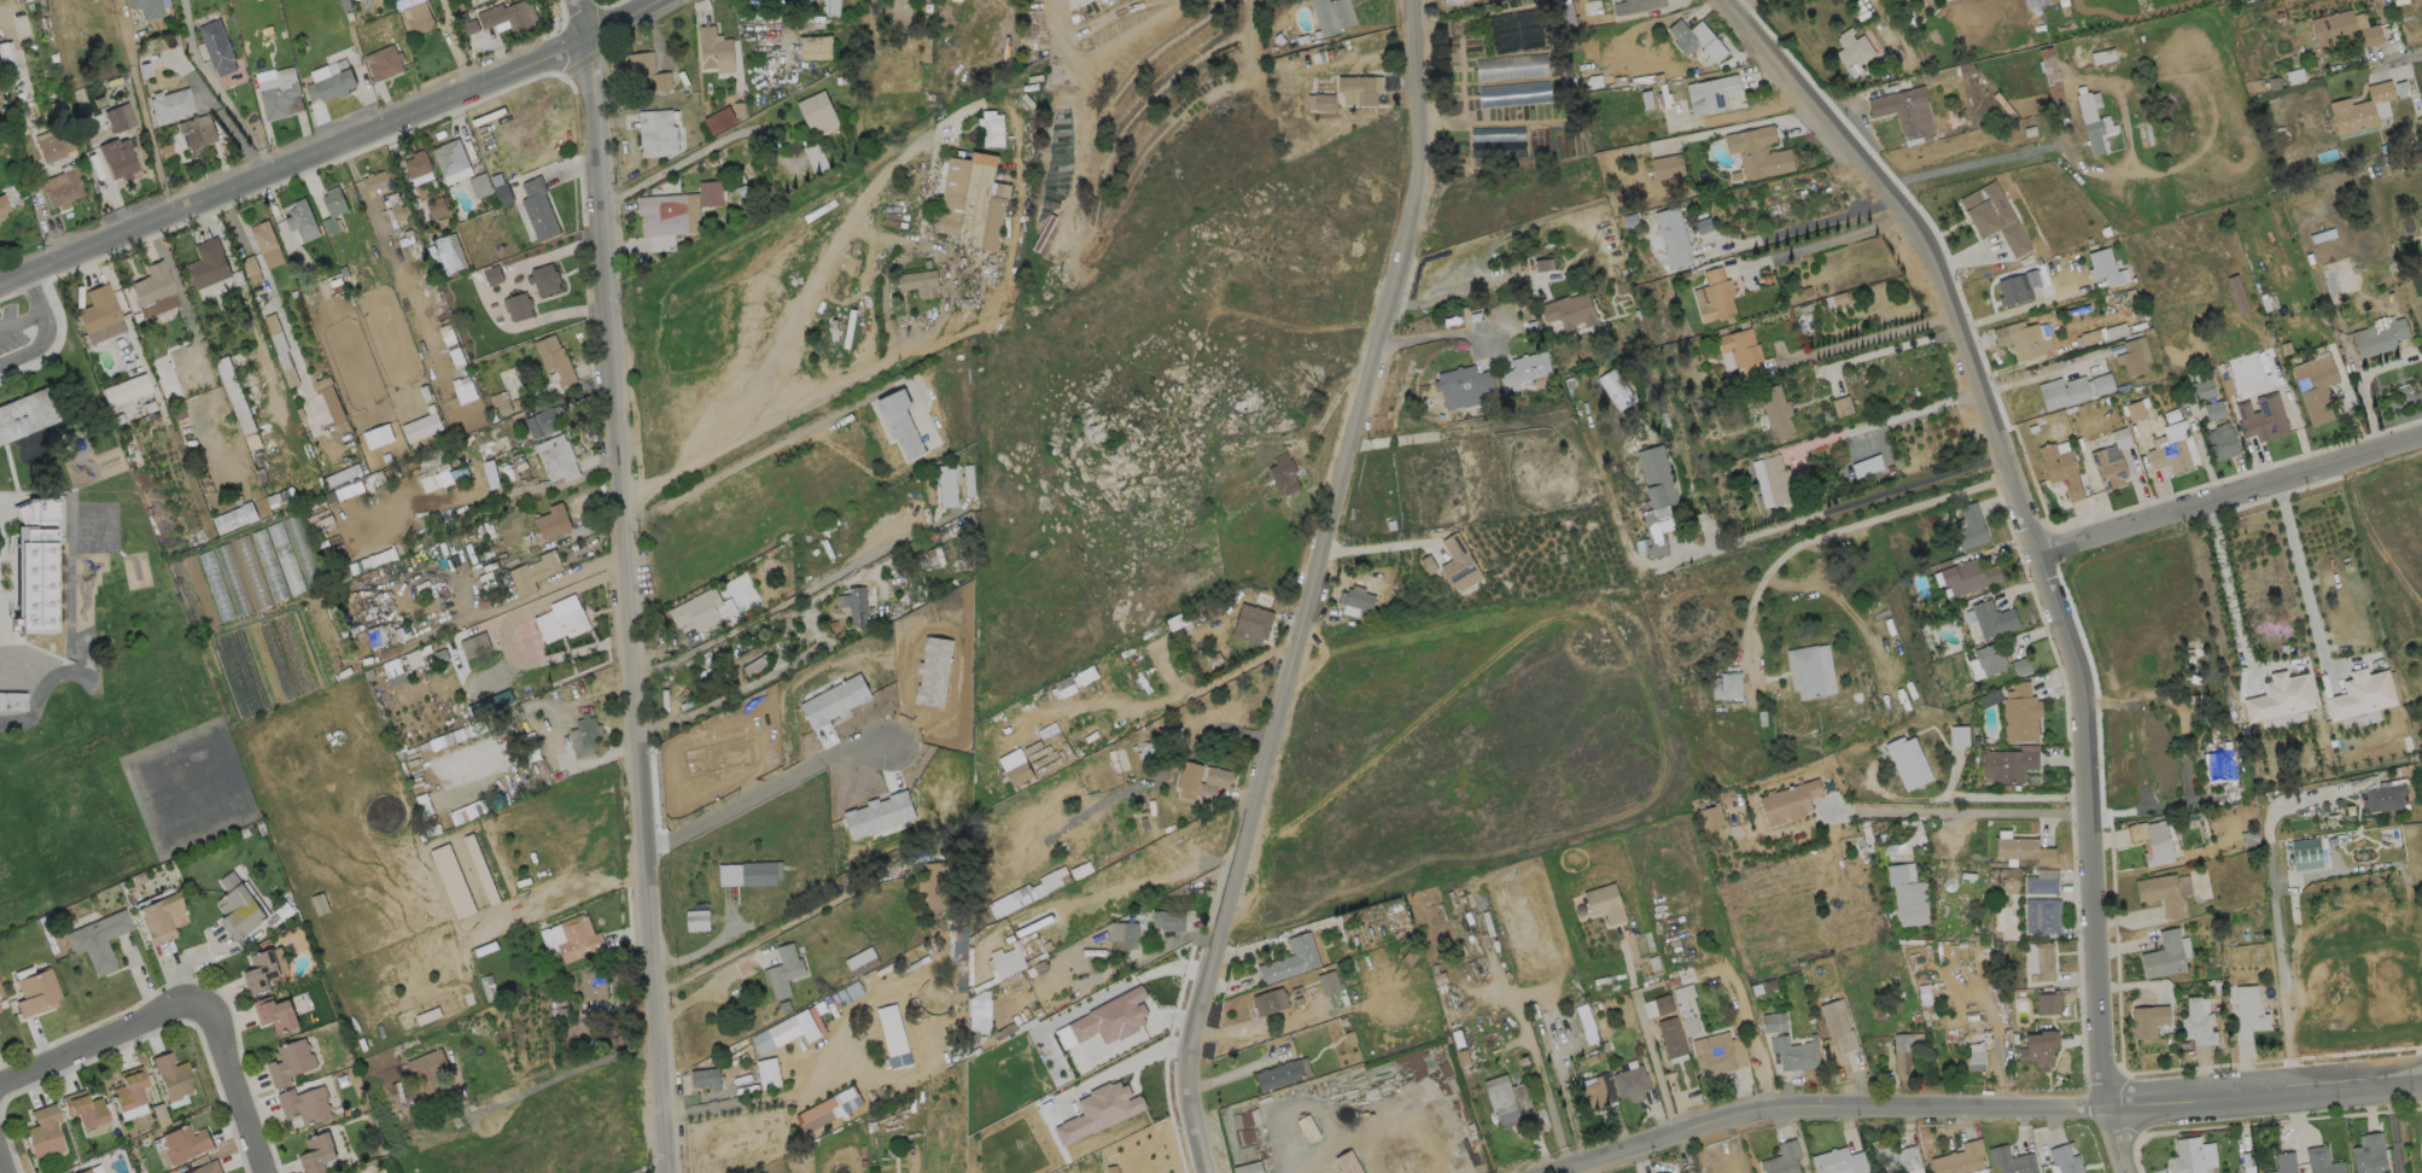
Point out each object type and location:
building: (477, 0)
road: (1051, 0)
building: (1945, 0)
building: (1451, 1)
building: (2035, 2)
building: (1633, 6)
building: (146, 7)
building: (830, 7)
building: (901, 14)
building: (1332, 14)
building: (508, 16)
building: (416, 18)
building: (471, 25)
building: (2341, 30)
building: (1696, 40)
building: (216, 47)
building: (815, 47)
building: (714, 49)
building: (1855, 49)
road: (1098, 53)
building: (2102, 56)
road: (2398, 57)
building: (6, 59)
building: (381, 62)
building: (643, 65)
building: (331, 84)
building: (1359, 88)
building: (1710, 93)
building: (280, 94)
building: (1320, 103)
building: (169, 105)
road: (229, 107)
building: (813, 107)
building: (2359, 107)
road: (141, 109)
building: (59, 110)
building: (1908, 111)
building: (0, 112)
building: (118, 117)
building: (719, 119)
building: (2094, 123)
building: (990, 128)
road: (1726, 128)
building: (658, 135)
building: (191, 140)
building: (52, 145)
road: (328, 147)
building: (1756, 152)
building: (449, 157)
building: (117, 158)
road: (1980, 161)
building: (416, 164)
road: (676, 164)
road: (2090, 165)
building: (1667, 167)
road: (1921, 175)
building: (379, 180)
building: (479, 185)
building: (60, 188)
building: (8, 189)
building: (710, 193)
building: (971, 200)
building: (436, 206)
building: (4, 208)
building: (331, 208)
building: (537, 209)
building: (667, 214)
building: (1995, 218)
building: (300, 220)
road: (1799, 227)
building: (2421, 227)
building: (2315, 228)
building: (1671, 235)
building: (265, 244)
building: (445, 253)
building: (206, 263)
building: (1543, 263)
building: (2103, 267)
building: (250, 269)
road: (817, 270)
building: (492, 274)
building: (544, 279)
building: (920, 284)
building: (150, 285)
building: (2010, 290)
building: (1715, 296)
building: (2239, 296)
road: (494, 299)
building: (517, 307)
building: (1570, 311)
road: (39, 313)
building: (98, 314)
road: (45, 335)
road: (1434, 335)
building: (2379, 335)
building: (2024, 338)
road: (1893, 348)
building: (280, 350)
building: (1741, 351)
building: (2132, 356)
road: (13, 358)
building: (554, 360)
building: (1524, 369)
building: (459, 381)
building: (1464, 383)
building: (2100, 384)
building: (1615, 389)
building: (2204, 389)
building: (124, 390)
building: (2061, 391)
building: (2317, 395)
building: (500, 402)
building: (238, 403)
building: (1842, 405)
building: (1775, 410)
building: (2135, 410)
building: (2214, 410)
building: (25, 418)
building: (2261, 418)
road: (770, 420)
building: (543, 422)
building: (900, 424)
building: (372, 425)
building: (421, 427)
building: (51, 430)
building: (2219, 442)
building: (2169, 454)
building: (556, 463)
building: (1867, 466)
building: (2108, 467)
building: (2061, 469)
building: (1284, 474)
building: (1772, 480)
building: (947, 485)
road: (2230, 491)
road: (494, 494)
building: (279, 501)
building: (1657, 501)
road: (1832, 509)
building: (551, 521)
building: (1969, 526)
road: (1842, 533)
road: (2373, 535)
road: (2037, 542)
building: (280, 544)
building: (299, 545)
road: (1371, 545)
building: (1458, 564)
building: (39, 567)
building: (533, 571)
road: (2300, 572)
building: (1967, 574)
road: (626, 585)
road: (2227, 586)
road: (1303, 588)
road: (796, 596)
building: (1356, 601)
building: (858, 607)
building: (696, 609)
building: (1992, 618)
building: (560, 623)
building: (1251, 623)
building: (473, 644)
building: (1990, 659)
building: (924, 661)
building: (2020, 666)
building: (1974, 669)
building: (1066, 670)
building: (1810, 671)
building: (1731, 685)
building: (827, 689)
road: (737, 690)
building: (2360, 695)
building: (2280, 698)
building: (12, 701)
building: (2020, 713)
building: (1039, 720)
building: (1959, 735)
building: (582, 736)
building: (706, 747)
building: (1907, 763)
building: (2007, 764)
building: (2218, 765)
building: (1218, 777)
building: (1192, 781)
road: (764, 790)
building: (2383, 796)
building: (1788, 803)
building: (451, 806)
building: (874, 806)
road: (1967, 811)
building: (1711, 817)
building: (2152, 841)
building: (2023, 850)
building: (2305, 853)
building: (758, 874)
building: (451, 881)
building: (934, 885)
building: (2041, 885)
building: (2160, 893)
building: (1907, 894)
building: (1604, 903)
building: (238, 906)
building: (2041, 915)
building: (159, 916)
building: (696, 920)
building: (1167, 921)
road: (2275, 923)
building: (1124, 934)
building: (98, 936)
building: (475, 938)
building: (577, 938)
building: (2164, 955)
building: (1290, 961)
building: (2039, 962)
building: (259, 970)
building: (784, 970)
building: (1327, 982)
building: (591, 984)
road: (710, 987)
building: (35, 991)
building: (1268, 1002)
building: (2047, 1003)
building: (1663, 1004)
building: (1685, 1008)
building: (0, 1010)
building: (2248, 1012)
building: (275, 1014)
building: (1111, 1017)
building: (2148, 1020)
building: (1773, 1022)
building: (1837, 1023)
building: (2196, 1023)
building: (784, 1032)
road: (1646, 1033)
building: (893, 1035)
building: (1670, 1038)
road: (103, 1046)
building: (2039, 1049)
building: (1797, 1054)
building: (1904, 1054)
building: (1975, 1061)
building: (290, 1062)
building: (1714, 1063)
road: (1235, 1072)
building: (768, 1073)
building: (427, 1074)
building: (1278, 1075)
road: (561, 1076)
building: (171, 1078)
building: (704, 1078)
building: (1630, 1082)
road: (235, 1086)
building: (128, 1089)
building: (1594, 1093)
building: (1500, 1098)
building: (1092, 1101)
building: (304, 1104)
road: (1988, 1107)
building: (82, 1109)
building: (828, 1109)
road: (2393, 1126)
building: (1307, 1127)
building: (42, 1132)
building: (183, 1143)
road: (1734, 1145)
building: (316, 1154)
building: (2369, 1155)
building: (1895, 1156)
building: (2187, 1156)
building: (1781, 1159)
building: (1961, 1160)
building: (2065, 1160)
building: (1838, 1161)
building: (2010, 1161)
building: (2322, 1161)
building: (2283, 1162)
road: (2, 1163)
building: (1347, 1163)
building: (208, 1167)
building: (1248, 1167)
road: (1584, 1169)
building: (82, 1171)
building: (1664, 1172)

